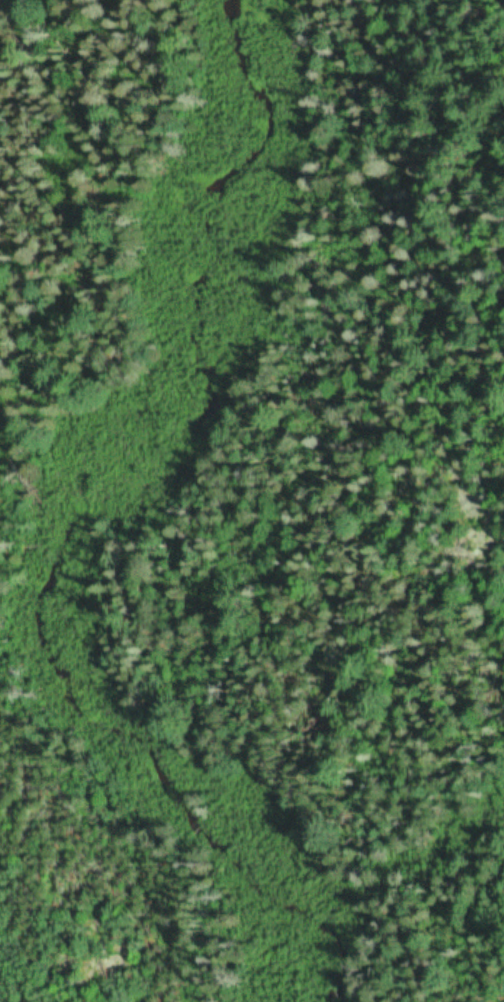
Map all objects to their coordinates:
road: (488, 992)

